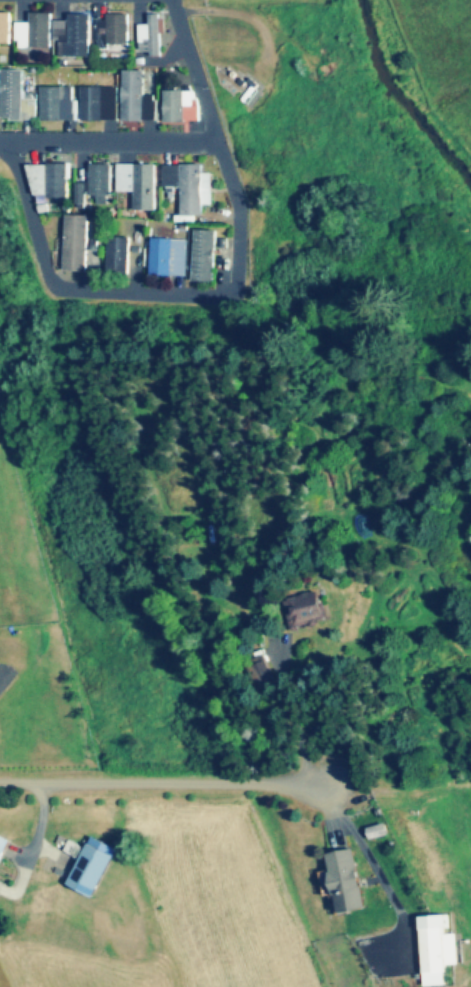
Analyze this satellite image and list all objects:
building: (6, 27)
building: (116, 30)
building: (37, 31)
building: (76, 34)
building: (152, 36)
road: (200, 71)
building: (134, 95)
building: (16, 97)
building: (59, 103)
building: (100, 103)
river: (397, 105)
building: (182, 106)
road: (7, 142)
building: (49, 181)
building: (97, 182)
building: (140, 184)
building: (189, 186)
building: (77, 243)
building: (120, 255)
building: (206, 256)
building: (170, 257)
road: (240, 278)
building: (308, 608)
building: (262, 671)
road: (163, 784)
building: (378, 832)
building: (3, 846)
building: (94, 867)
building: (345, 882)
building: (438, 950)

